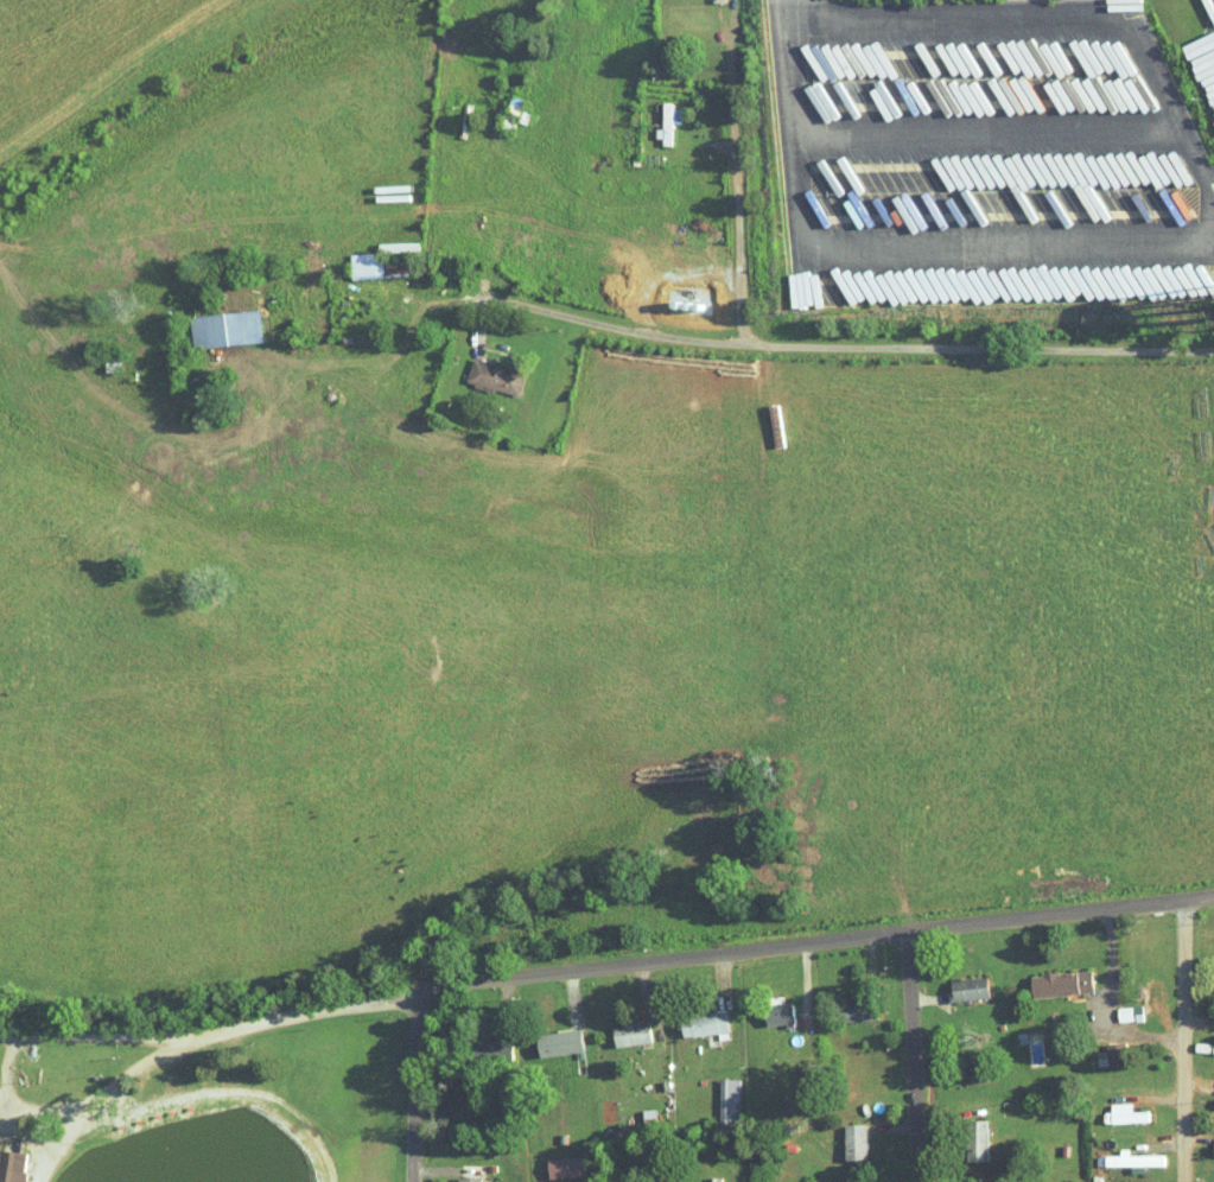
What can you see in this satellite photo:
road: (786, 14)
road: (732, 82)
building: (667, 121)
road: (987, 131)
road: (738, 231)
road: (1188, 240)
building: (386, 261)
building: (224, 328)
road: (484, 337)
road: (808, 348)
building: (494, 376)
road: (954, 949)
road: (859, 961)
road: (605, 968)
road: (790, 968)
road: (719, 980)
building: (1060, 984)
road: (641, 985)
building: (967, 990)
road: (572, 994)
road: (507, 1002)
road: (1107, 1005)
building: (857, 1011)
building: (777, 1013)
building: (1127, 1013)
building: (703, 1024)
building: (630, 1034)
road: (1186, 1042)
building: (558, 1043)
road: (1, 1046)
road: (1200, 1053)
building: (1111, 1055)
road: (914, 1056)
road: (58, 1057)
road: (127, 1070)
road: (943, 1072)
road: (415, 1086)
building: (727, 1101)
road: (1176, 1108)
building: (1126, 1114)
road: (883, 1129)
building: (854, 1142)
road: (947, 1143)
road: (1178, 1150)
building: (1213, 1150)
building: (12, 1167)
road: (439, 1180)
building: (468, 1180)

